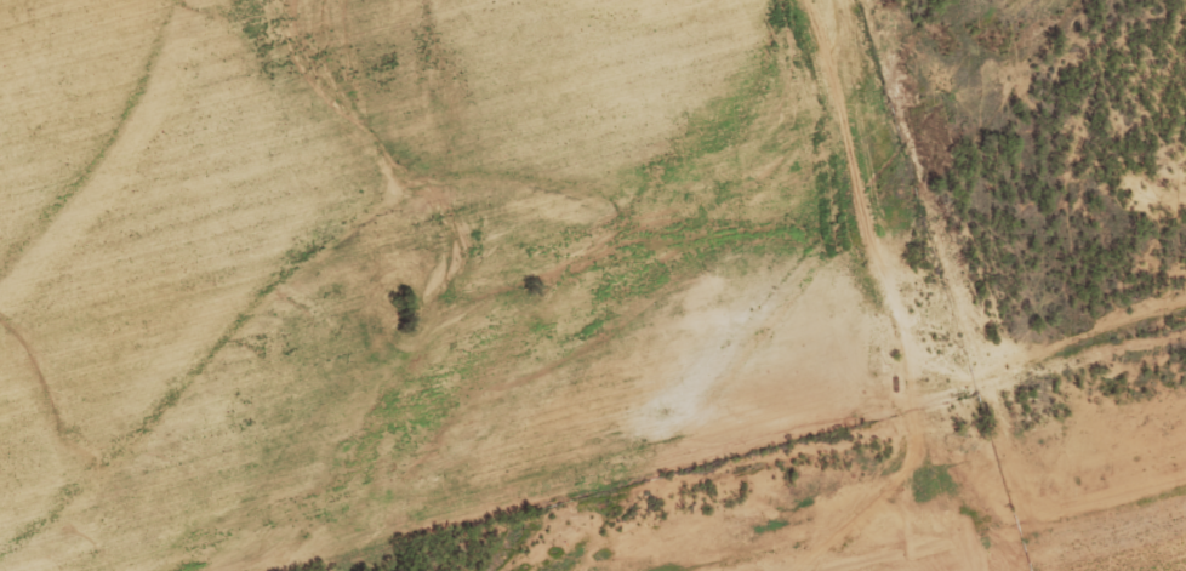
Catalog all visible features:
road: (837, 285)

